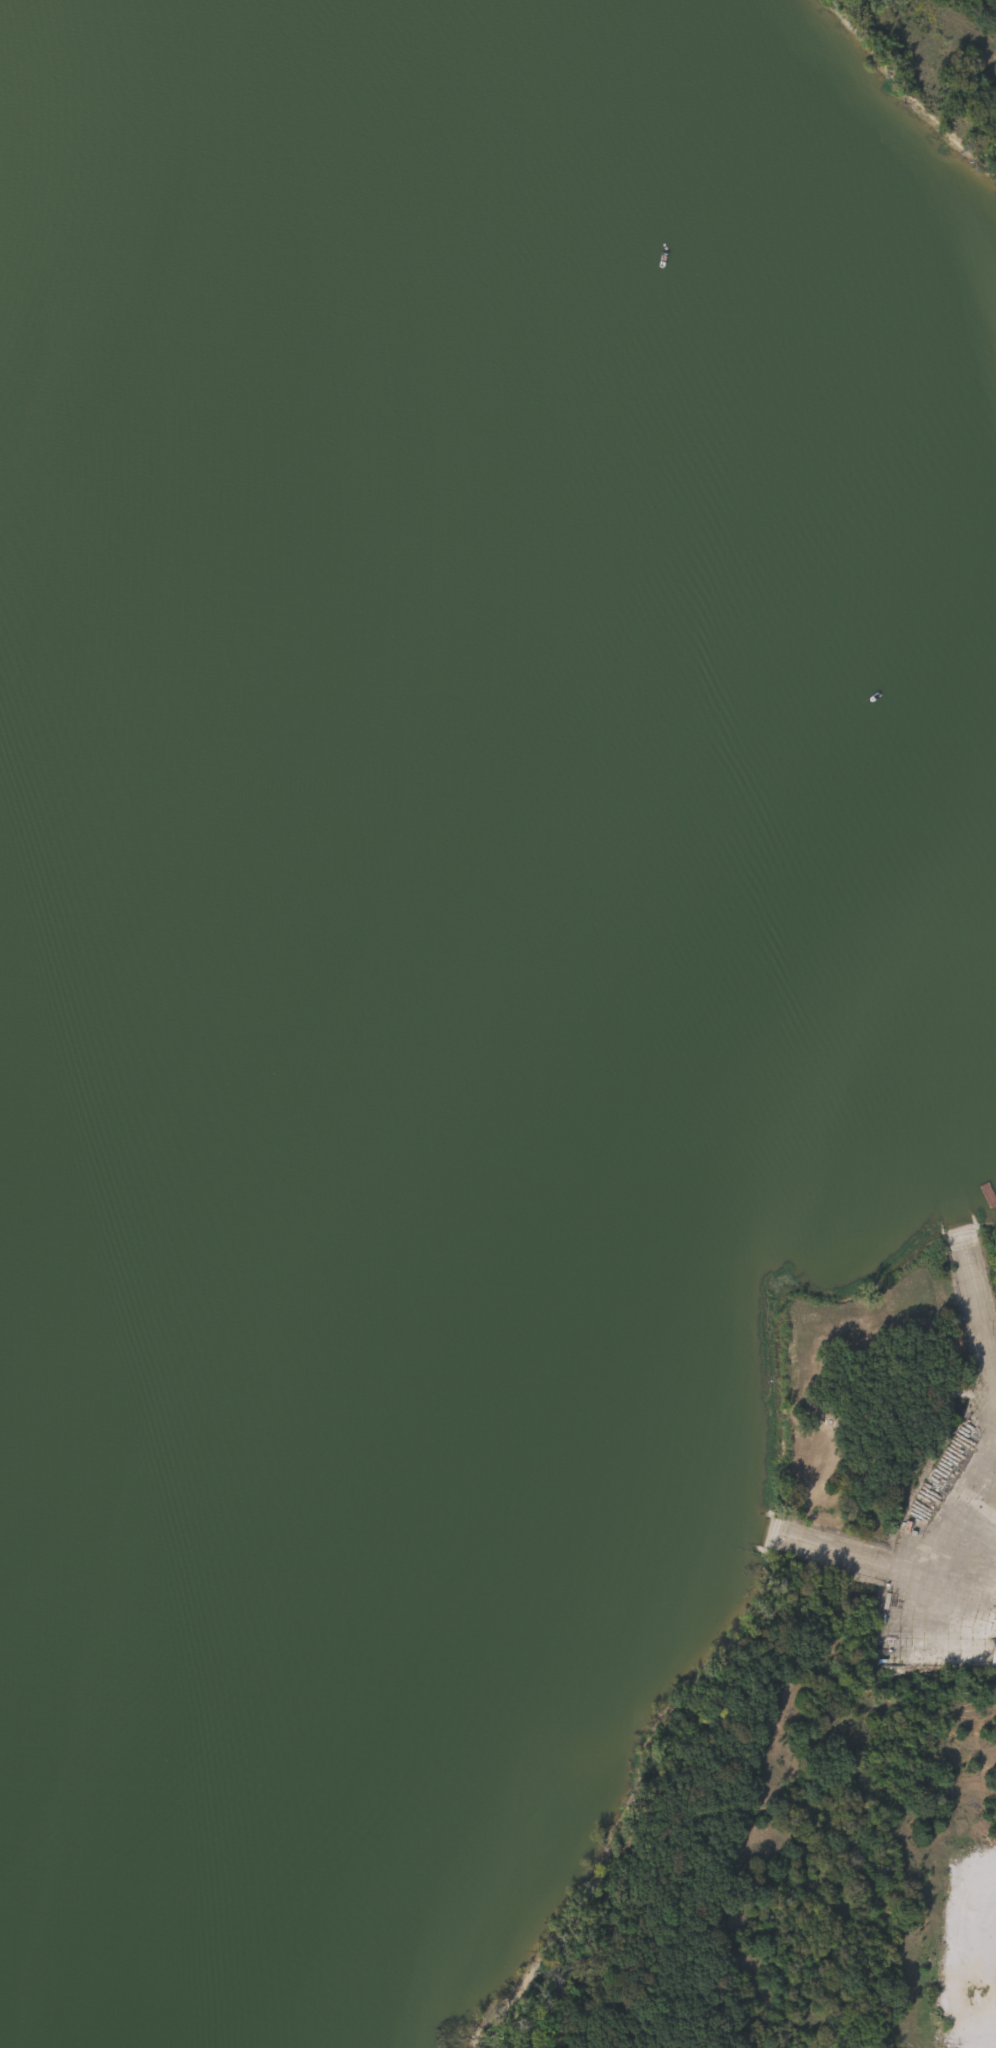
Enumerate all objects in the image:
river: (94, 488)
building: (991, 1148)
road: (874, 1562)
road: (980, 1599)
building: (993, 1652)

